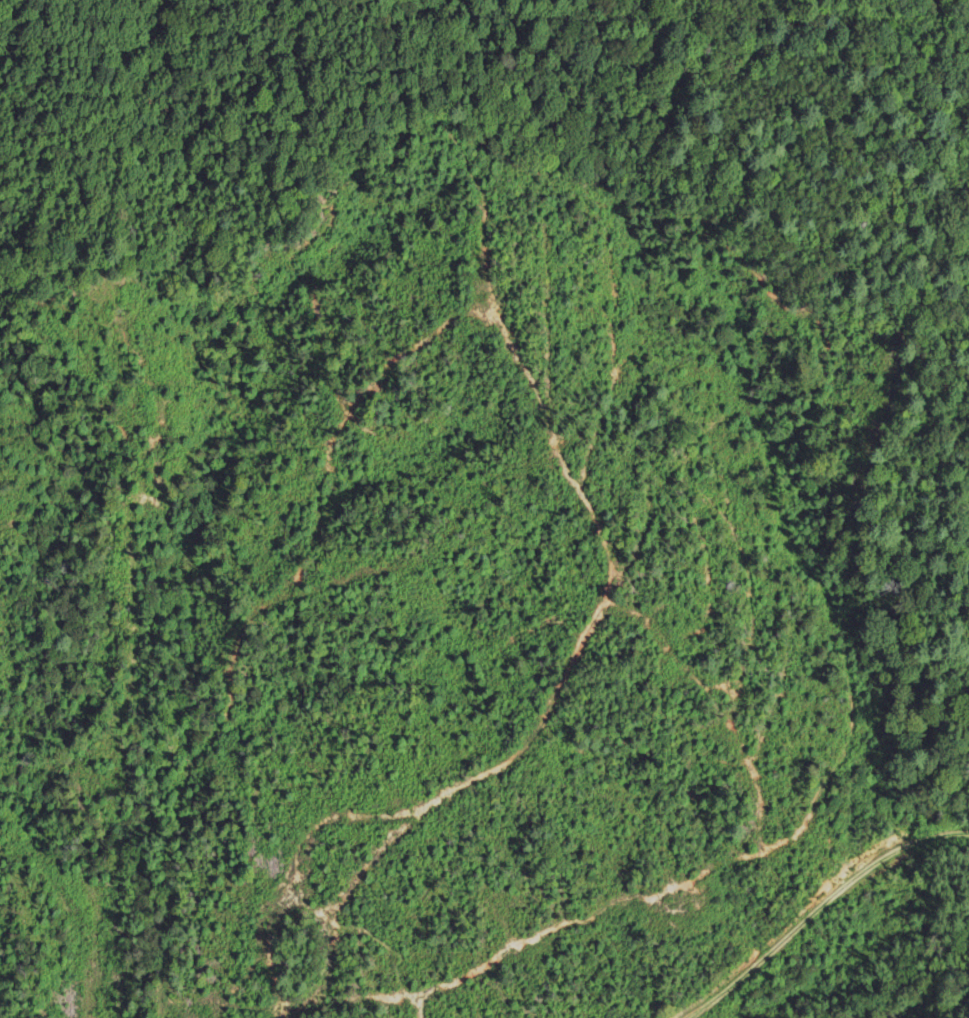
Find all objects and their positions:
road: (968, 1017)

